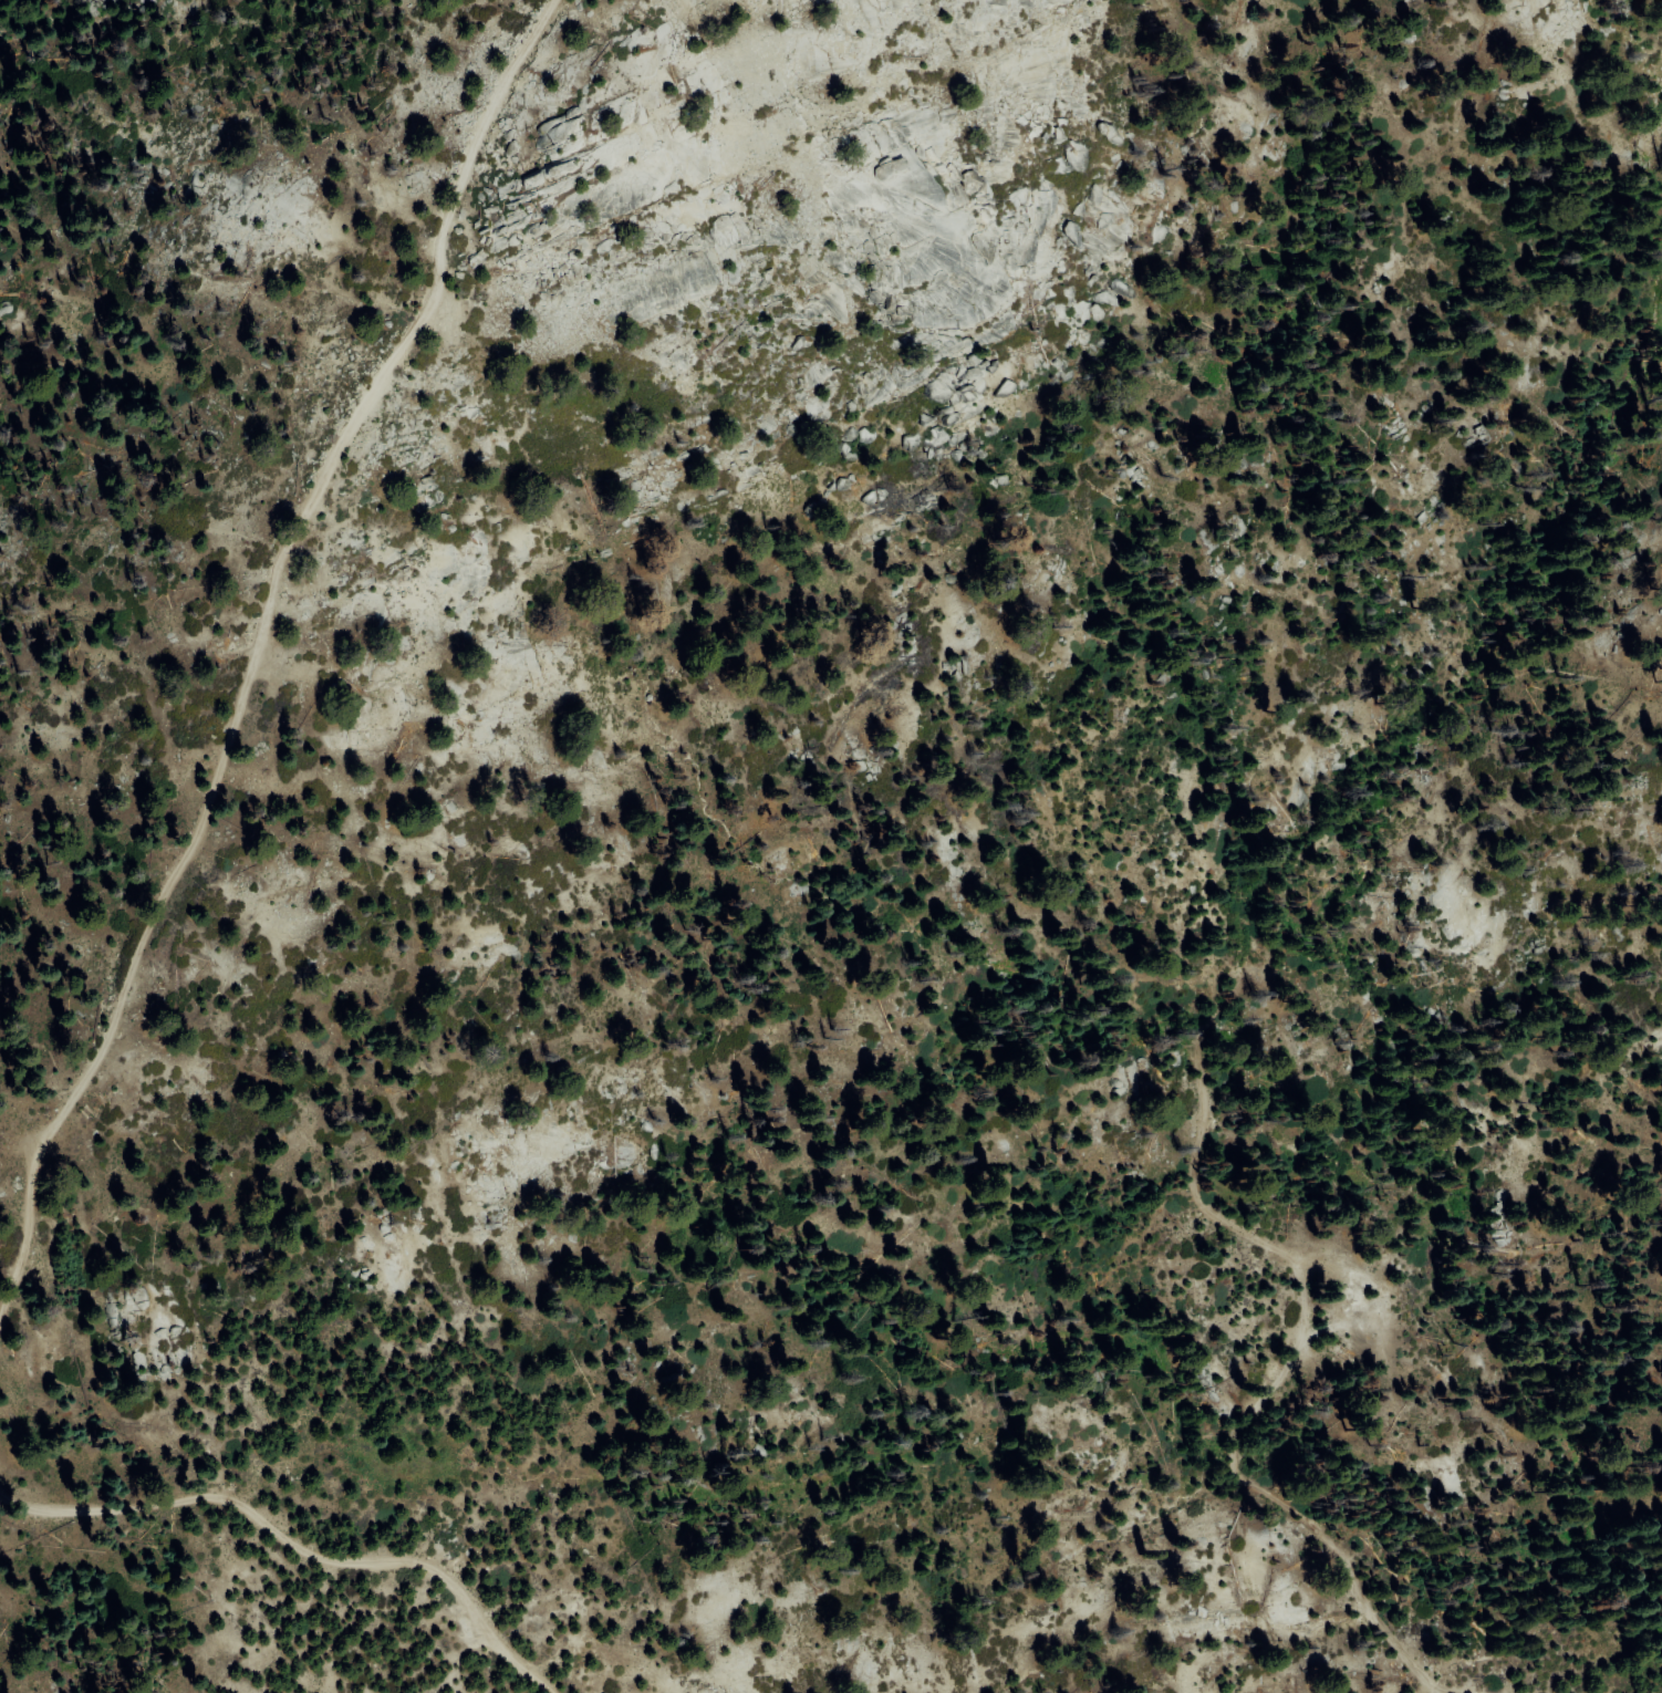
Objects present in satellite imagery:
road: (259, 646)
building: (1126, 1079)
road: (1258, 1401)
road: (297, 1541)

